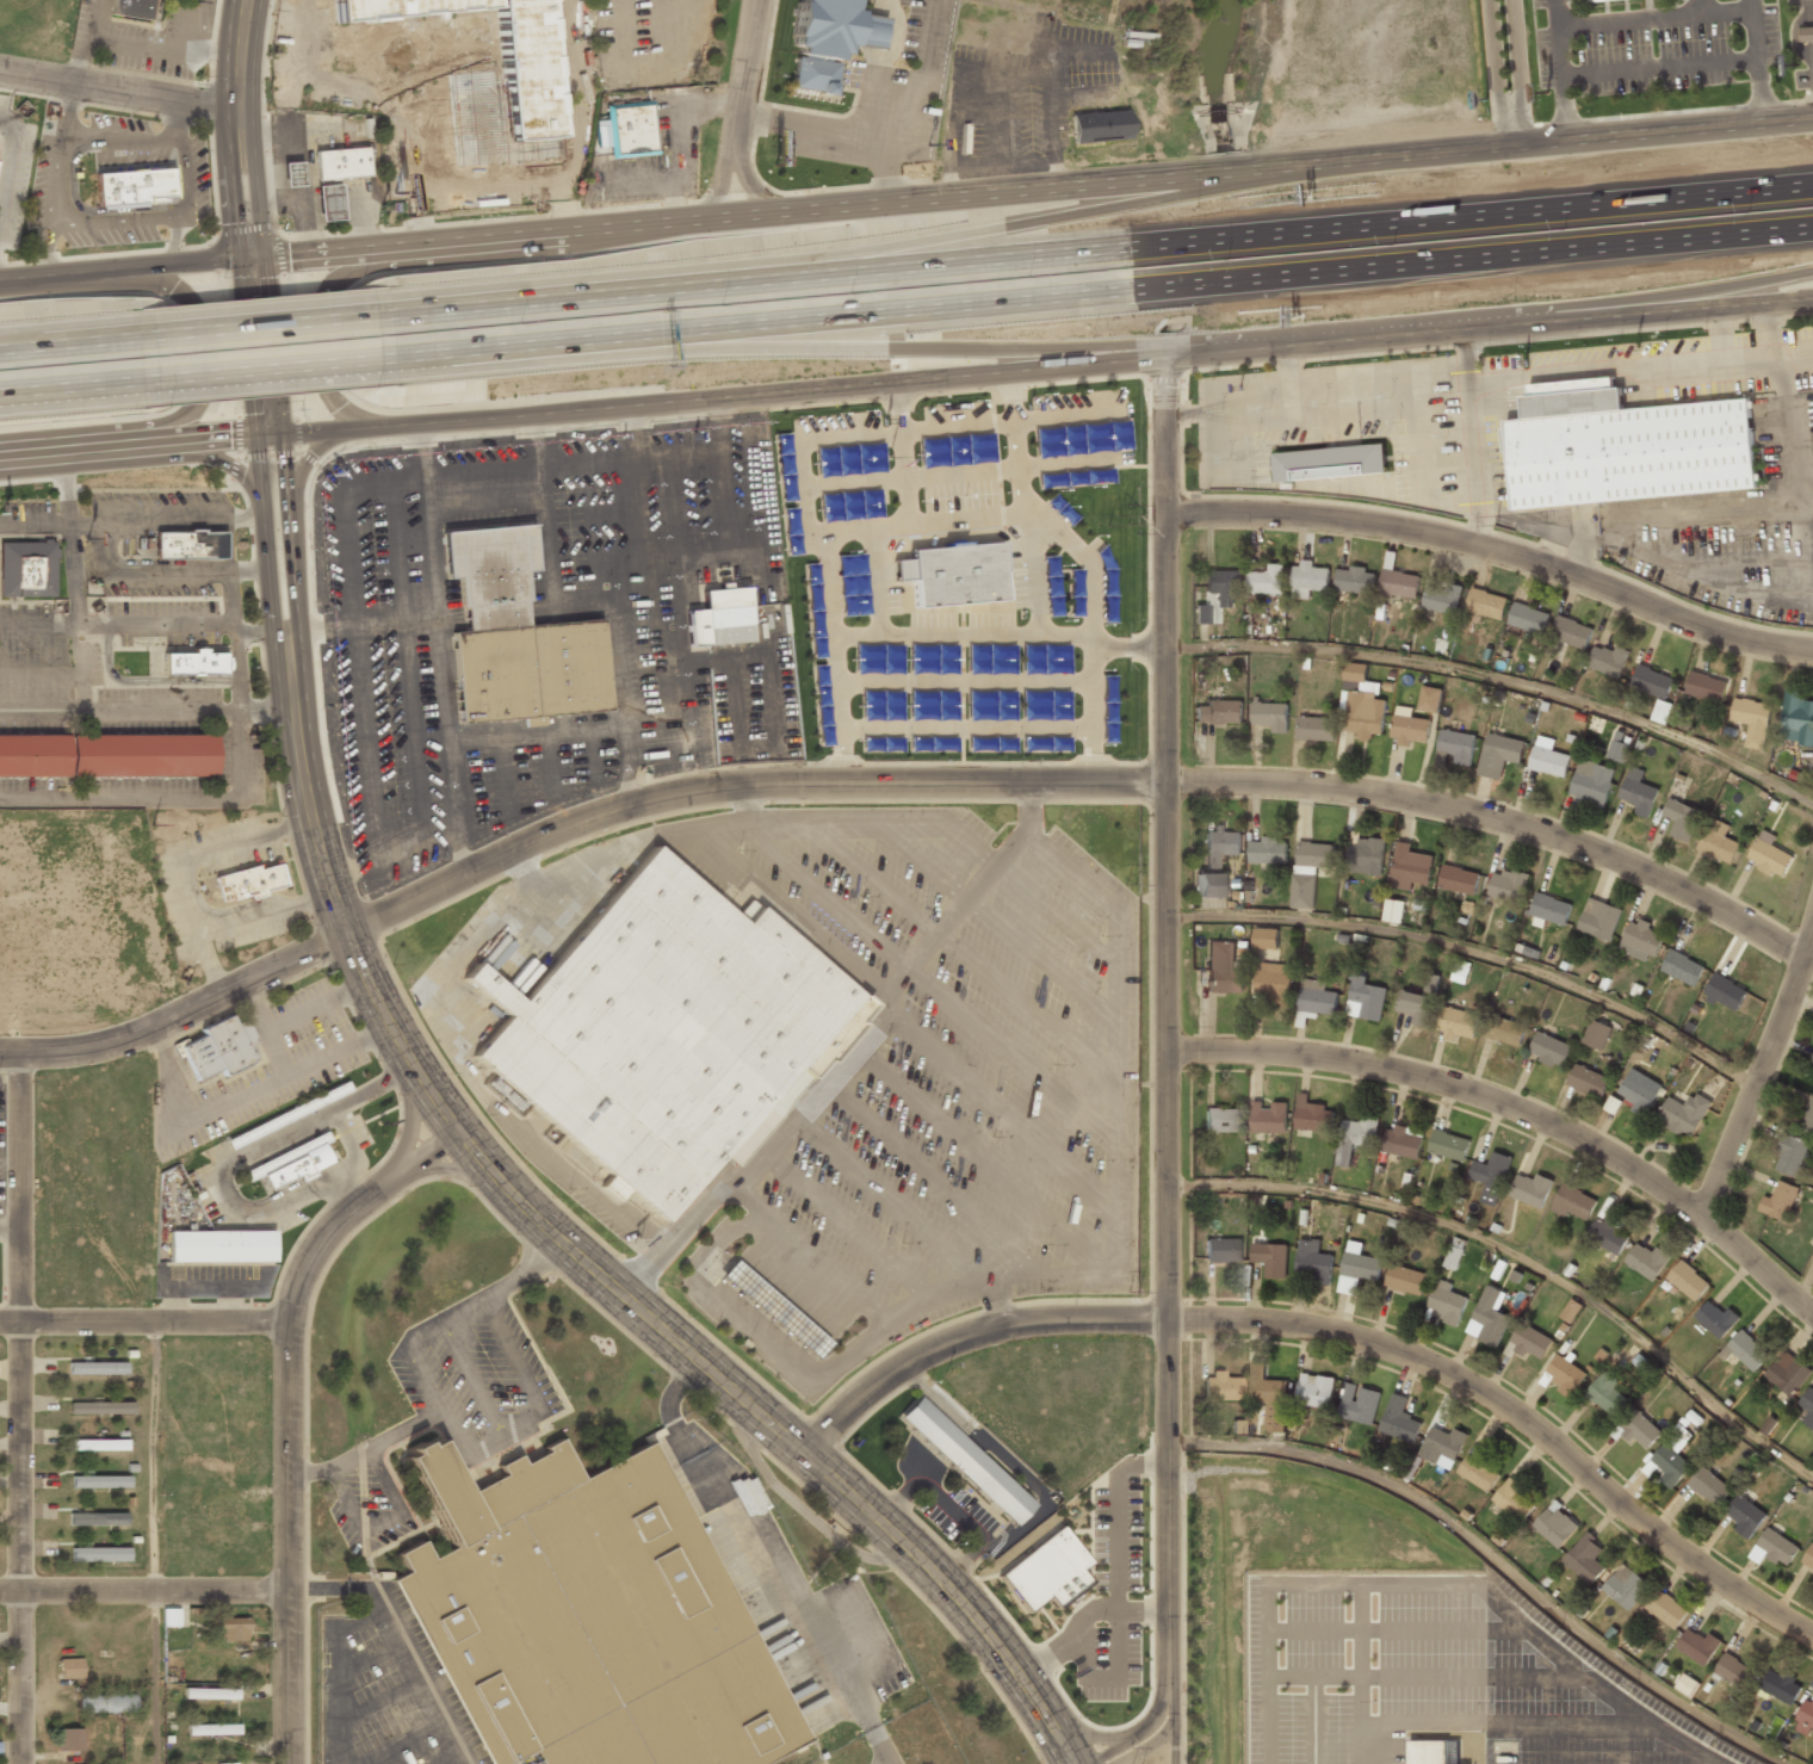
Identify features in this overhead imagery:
building: (1598, 0)
building: (131, 8)
road: (639, 20)
building: (1809, 30)
parking lot: (629, 42)
building: (827, 42)
road: (1758, 60)
road: (668, 62)
road: (1561, 69)
road: (1516, 70)
building: (462, 74)
road: (118, 88)
road: (742, 105)
road: (577, 113)
road: (237, 128)
building: (1097, 128)
building: (630, 129)
road: (1594, 136)
building: (339, 163)
building: (285, 175)
building: (128, 188)
building: (323, 204)
gas station: (323, 204)
road: (687, 213)
road: (1057, 215)
road: (1099, 249)
traffic signals: (247, 256)
road: (1108, 290)
road: (1683, 293)
road: (1554, 315)
road: (258, 323)
road: (324, 323)
road: (64, 340)
road: (848, 347)
road: (197, 354)
road: (396, 355)
road: (261, 369)
road: (68, 388)
road: (649, 403)
traffic signals: (268, 434)
building: (1625, 447)
building: (1331, 464)
road: (66, 484)
road: (252, 512)
road: (115, 518)
power tower: (1498, 520)
power tower: (1125, 525)
building: (182, 546)
road: (1496, 550)
road: (255, 568)
building: (23, 570)
building: (945, 577)
building: (1308, 580)
building: (1267, 581)
building: (1355, 581)
building: (1223, 586)
building: (1401, 586)
building: (1442, 600)
building: (1486, 605)
building: (1200, 614)
building: (1528, 619)
building: (711, 620)
road: (258, 633)
building: (1571, 633)
building: (514, 636)
road: (439, 649)
building: (1607, 661)
building: (186, 666)
road: (1499, 680)
building: (1652, 681)
building: (1706, 688)
building: (1430, 699)
building: (1361, 702)
road: (144, 710)
building: (1660, 712)
building: (1218, 713)
building: (1270, 716)
building: (1796, 719)
building: (1752, 722)
building: (1410, 729)
building: (1316, 730)
building: (1455, 748)
building: (1619, 749)
building: (1499, 755)
building: (142, 756)
building: (30, 757)
building: (1547, 759)
road: (236, 772)
road: (1076, 780)
building: (1591, 782)
building: (1638, 792)
building: (1681, 818)
building: (1718, 841)
building: (1267, 852)
building: (1366, 855)
building: (1769, 855)
building: (1215, 862)
building: (1410, 866)
building: (1310, 871)
building: (1458, 879)
building: (245, 881)
power tower: (1131, 885)
building: (1508, 886)
building: (1551, 910)
building: (1393, 911)
building: (1598, 920)
building: (1642, 940)
building: (1264, 943)
road: (1473, 952)
building: (1223, 968)
building: (1682, 968)
building: (1461, 972)
building: (1274, 982)
building: (1430, 986)
building: (1725, 994)
building: (1317, 998)
building: (1366, 999)
building: (1413, 1005)
road: (178, 1011)
building: (1459, 1023)
building: (664, 1032)
building: (1508, 1032)
building: (1596, 1035)
building: (218, 1048)
building: (1549, 1050)
road: (853, 1056)
road: (1165, 1062)
building: (1812, 1062)
parking lot: (963, 1063)
road: (1759, 1067)
building: (1588, 1082)
building: (502, 1091)
building: (1636, 1095)
building: (1613, 1104)
road: (1515, 1109)
building: (1683, 1114)
building: (1312, 1115)
building: (285, 1116)
building: (1268, 1116)
road: (447, 1119)
building: (1807, 1119)
building: (1221, 1120)
building: (1356, 1137)
building: (1405, 1141)
building: (1449, 1145)
building: (1790, 1156)
building: (289, 1164)
building: (1491, 1176)
building: (1530, 1189)
building: (1780, 1200)
building: (1573, 1203)
building: (1608, 1236)
building: (219, 1245)
building: (1221, 1250)
building: (1454, 1252)
road: (1522, 1257)
building: (1270, 1258)
building: (1646, 1261)
building: (1313, 1263)
building: (1356, 1269)
road: (1806, 1277)
building: (1405, 1280)
building: (1687, 1282)
power tower: (1132, 1293)
building: (1446, 1302)
building: (772, 1308)
gas station: (772, 1308)
building: (1571, 1311)
building: (1489, 1317)
building: (1715, 1319)
road: (146, 1326)
road: (964, 1336)
building: (1530, 1342)
building: (1745, 1350)
building: (95, 1368)
building: (1788, 1374)
building: (1565, 1375)
building: (1220, 1386)
building: (1316, 1391)
building: (1608, 1394)
building: (1268, 1398)
building: (1359, 1404)
road: (21, 1405)
building: (1808, 1405)
building: (100, 1407)
road: (291, 1412)
road: (1512, 1416)
building: (1399, 1421)
building: (1641, 1431)
building: (97, 1444)
building: (1442, 1444)
building: (960, 1461)
building: (1667, 1466)
building: (1478, 1473)
building: (99, 1481)
building: (1710, 1487)
building: (1515, 1499)
building: (1745, 1516)
building: (98, 1518)
building: (1555, 1524)
road: (153, 1545)
building: (1772, 1548)
building: (99, 1554)
road: (1495, 1558)
building: (1585, 1559)
building: (1808, 1559)
building: (1045, 1573)
building: (1626, 1586)
road: (143, 1592)
building: (1666, 1609)
building: (169, 1617)
building: (577, 1621)
building: (231, 1629)
building: (1696, 1645)
building: (70, 1667)
building: (1733, 1671)
building: (1687, 1685)
building: (1780, 1686)
building: (210, 1694)
parking lot: (1574, 1702)
building: (107, 1703)
building: (1806, 1715)
building: (211, 1729)
road: (1087, 1731)
road: (1136, 1735)
building: (69, 1739)
road: (1144, 1746)
building: (1434, 1752)
building: (229, 1763)

